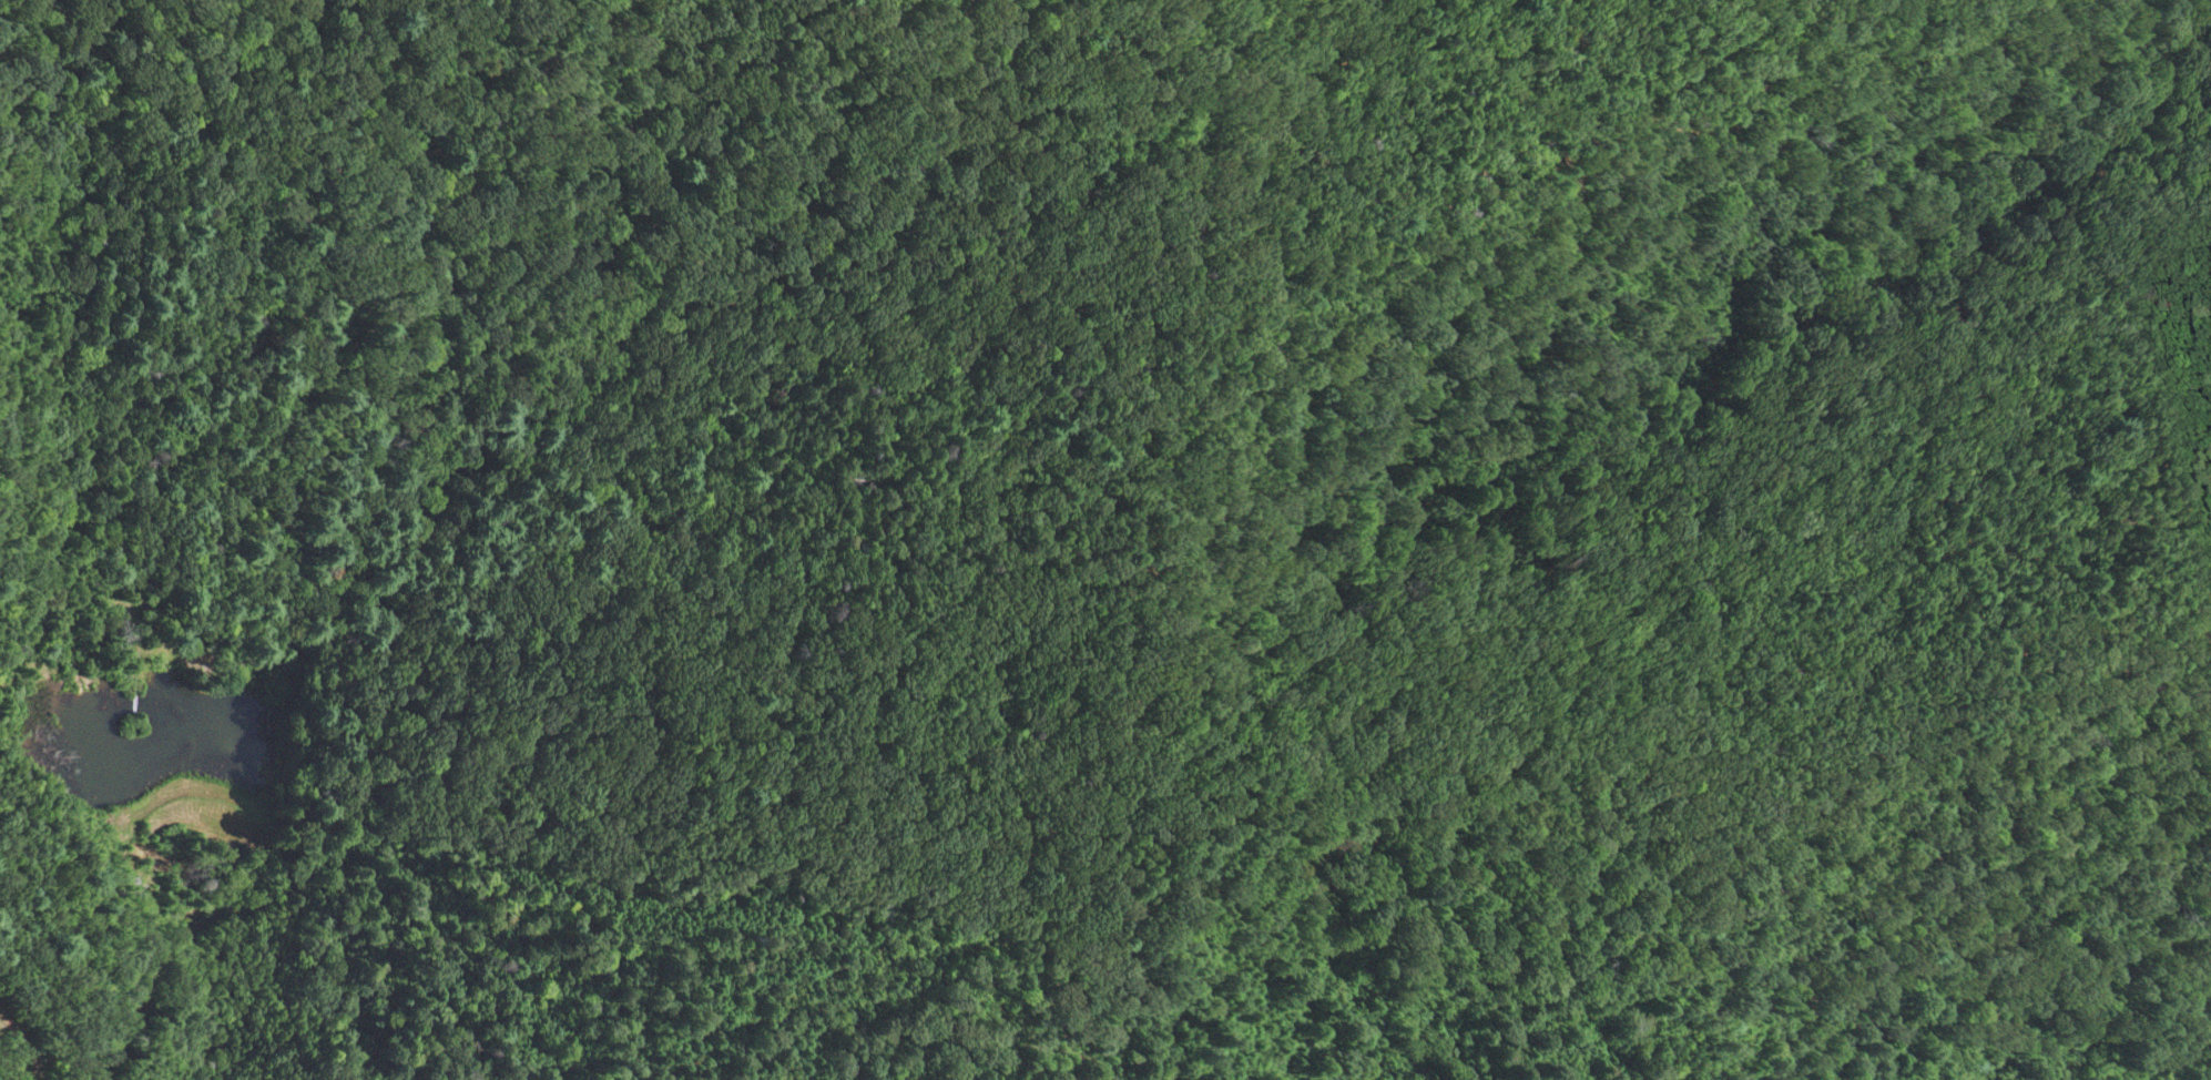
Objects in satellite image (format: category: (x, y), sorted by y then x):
park: (1290, 594)

